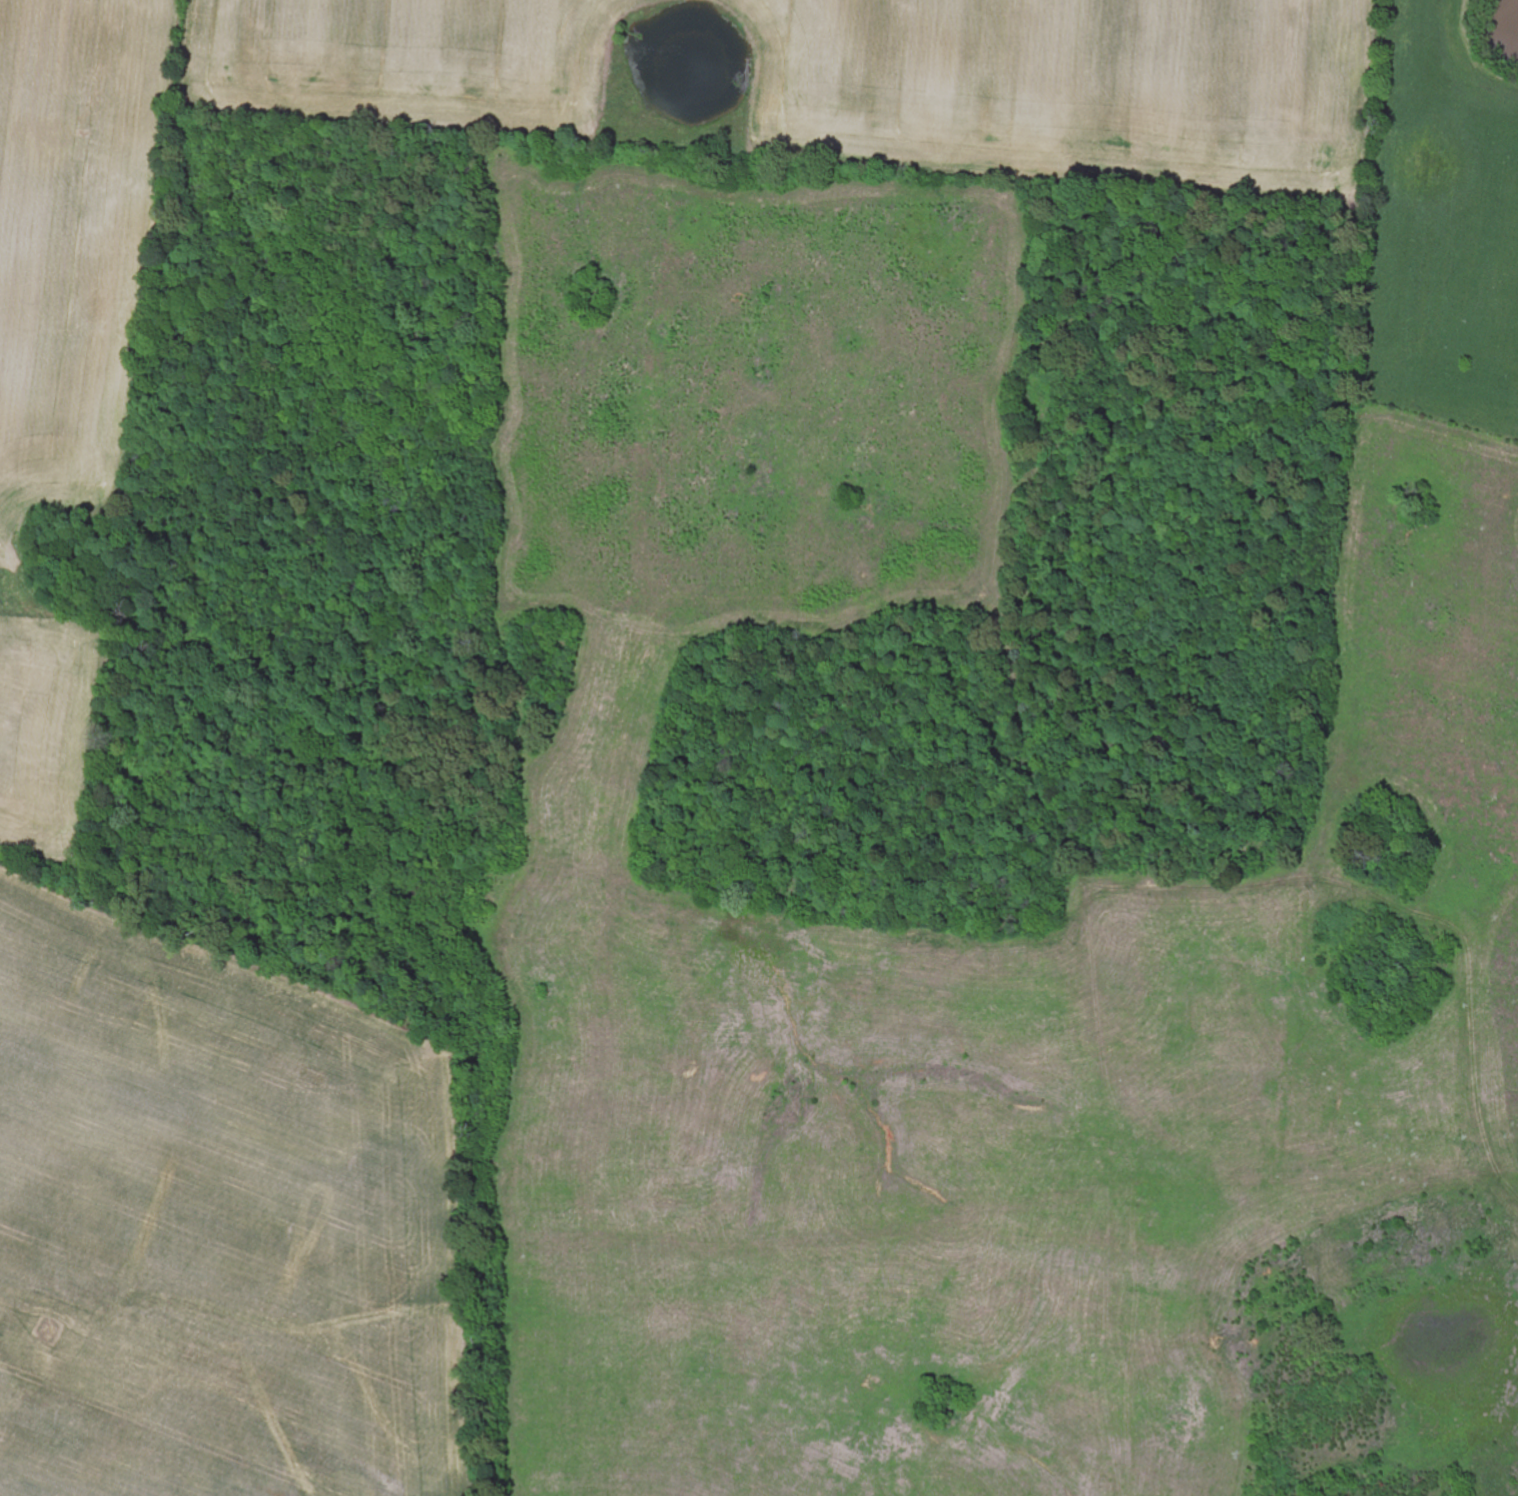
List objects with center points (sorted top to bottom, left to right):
road: (1256, 220)

